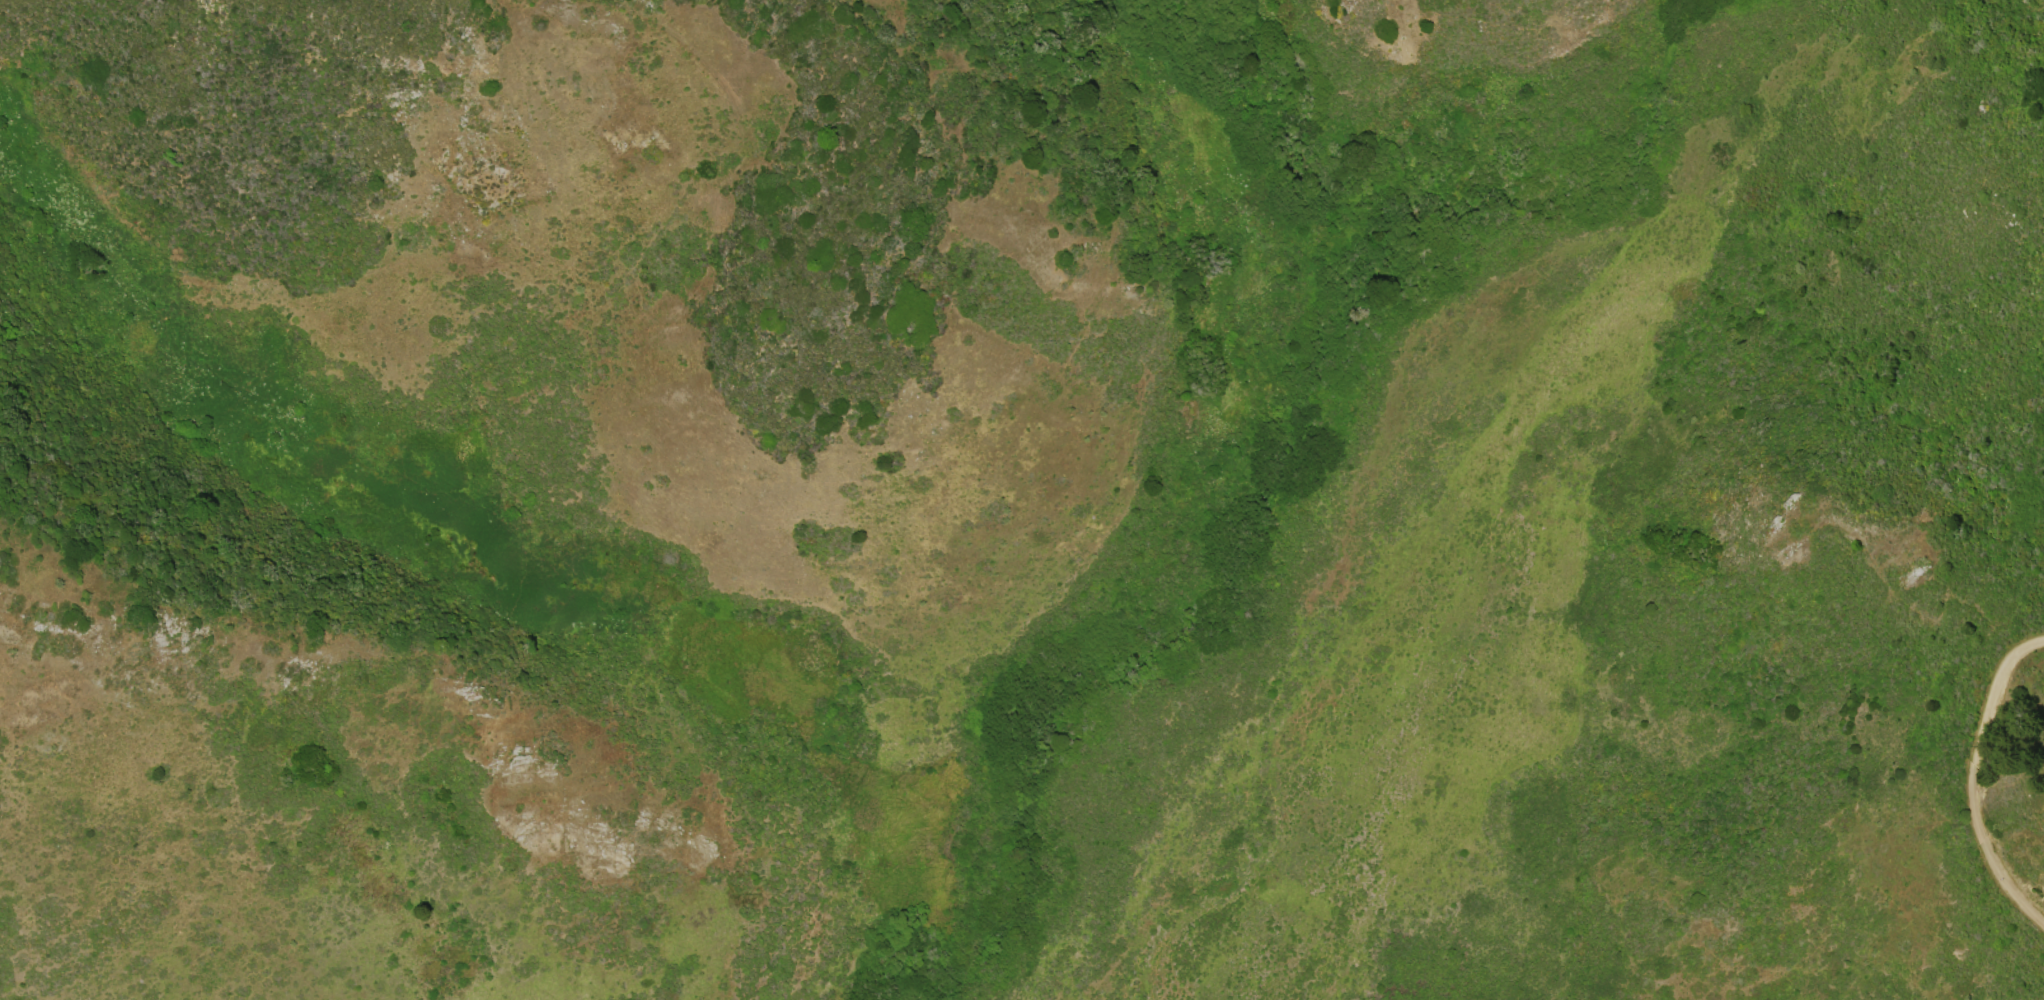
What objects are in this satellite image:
road: (1972, 779)

